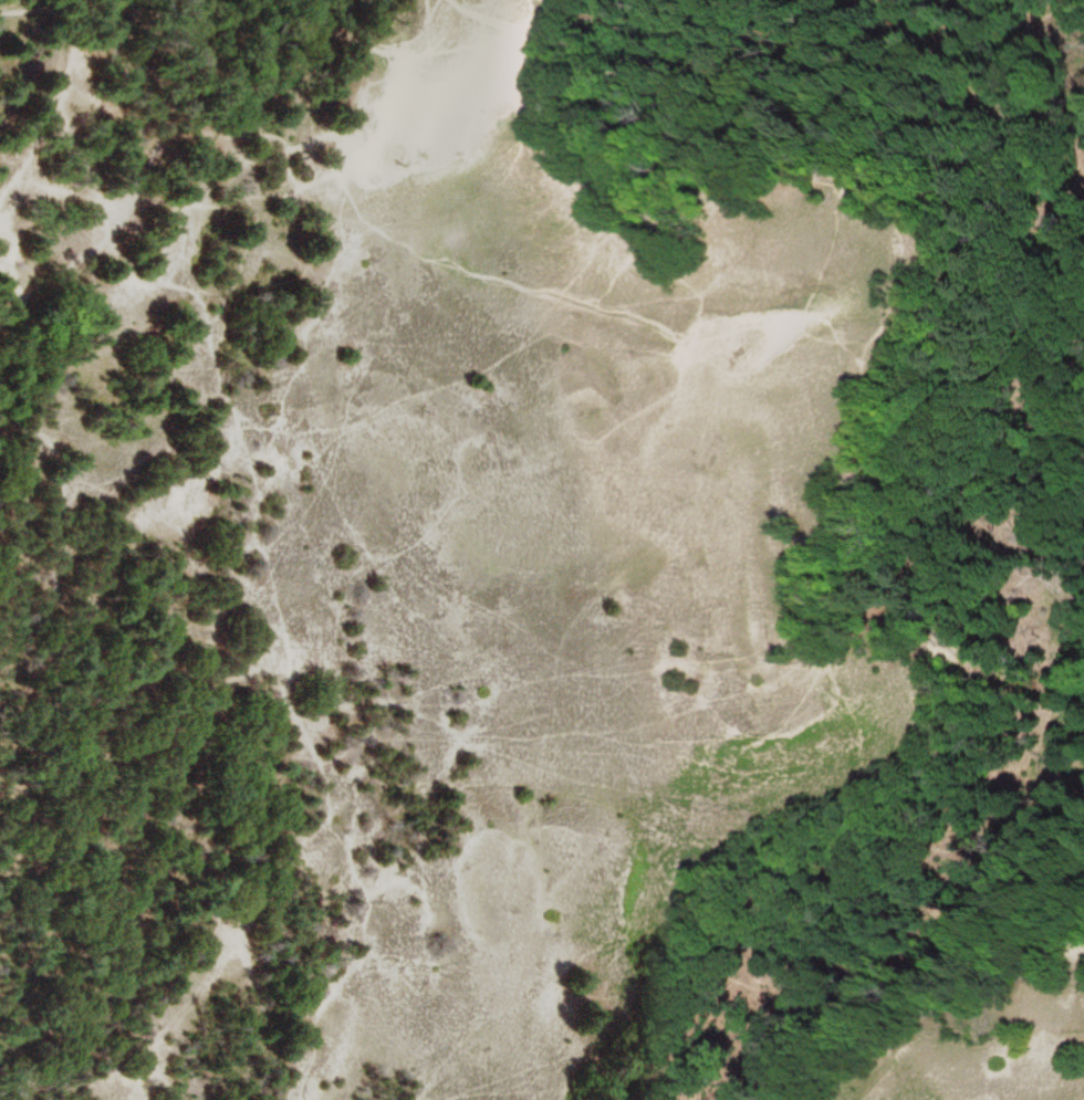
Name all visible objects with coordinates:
road: (21, 3)
road: (133, 182)
park: (542, 549)
road: (226, 734)

